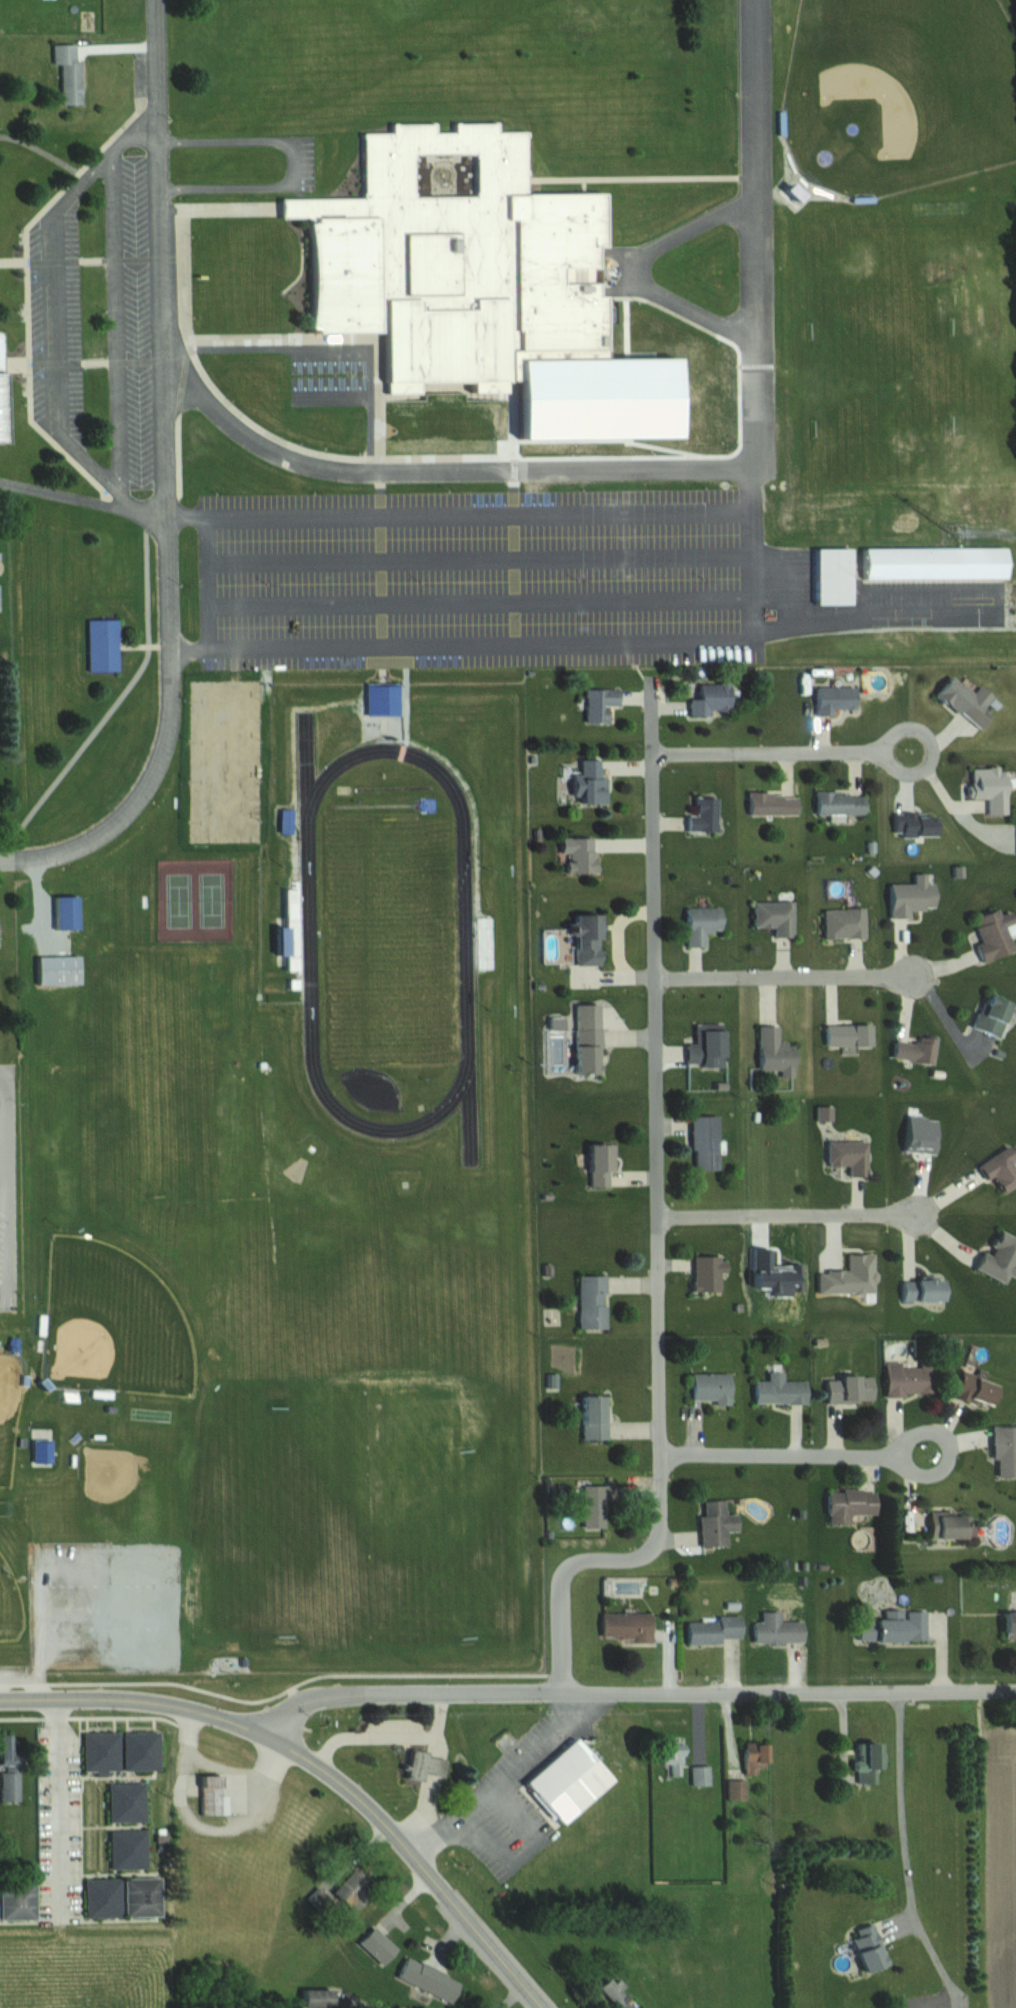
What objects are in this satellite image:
building: (65, 72)
road: (295, 162)
road: (751, 252)
building: (450, 259)
road: (640, 270)
road: (115, 318)
road: (53, 324)
building: (0, 437)
road: (302, 460)
road: (165, 472)
road: (81, 500)
building: (931, 562)
road: (755, 570)
building: (829, 575)
road: (867, 620)
building: (99, 645)
building: (707, 699)
building: (830, 699)
building: (961, 700)
building: (596, 703)
road: (770, 751)
park: (227, 760)
road: (924, 769)
building: (586, 782)
building: (836, 803)
building: (770, 804)
building: (701, 815)
building: (285, 822)
building: (574, 854)
road: (10, 860)
building: (907, 896)
park: (195, 901)
building: (771, 917)
building: (699, 923)
building: (840, 923)
building: (991, 934)
track: (466, 939)
building: (582, 939)
park: (387, 940)
building: (56, 969)
road: (785, 977)
building: (988, 1015)
building: (844, 1035)
building: (582, 1038)
building: (914, 1050)
building: (773, 1051)
building: (703, 1142)
building: (844, 1156)
building: (597, 1163)
building: (997, 1169)
road: (789, 1215)
road: (659, 1229)
building: (996, 1258)
building: (705, 1274)
building: (917, 1289)
building: (588, 1302)
park: (112, 1324)
building: (908, 1379)
building: (707, 1387)
building: (847, 1388)
building: (970, 1389)
building: (777, 1390)
park: (9, 1404)
building: (591, 1417)
road: (951, 1451)
building: (1002, 1451)
road: (782, 1454)
park: (136, 1486)
building: (846, 1504)
building: (594, 1507)
building: (713, 1523)
building: (941, 1525)
park: (9, 1605)
building: (1006, 1625)
building: (623, 1626)
building: (878, 1628)
building: (711, 1629)
building: (775, 1629)
road: (633, 1692)
road: (70, 1698)
road: (388, 1735)
building: (98, 1751)
building: (138, 1751)
building: (671, 1755)
building: (752, 1757)
building: (863, 1764)
building: (418, 1765)
road: (228, 1768)
building: (699, 1775)
road: (504, 1780)
building: (563, 1782)
building: (7, 1786)
building: (735, 1789)
building: (206, 1795)
road: (60, 1798)
building: (123, 1803)
road: (901, 1803)
road: (370, 1812)
road: (202, 1827)
building: (126, 1849)
building: (350, 1890)
building: (139, 1897)
building: (100, 1898)
building: (15, 1900)
building: (375, 1946)
building: (865, 1948)
building: (426, 1979)
building: (613, 1993)
building: (313, 1998)

